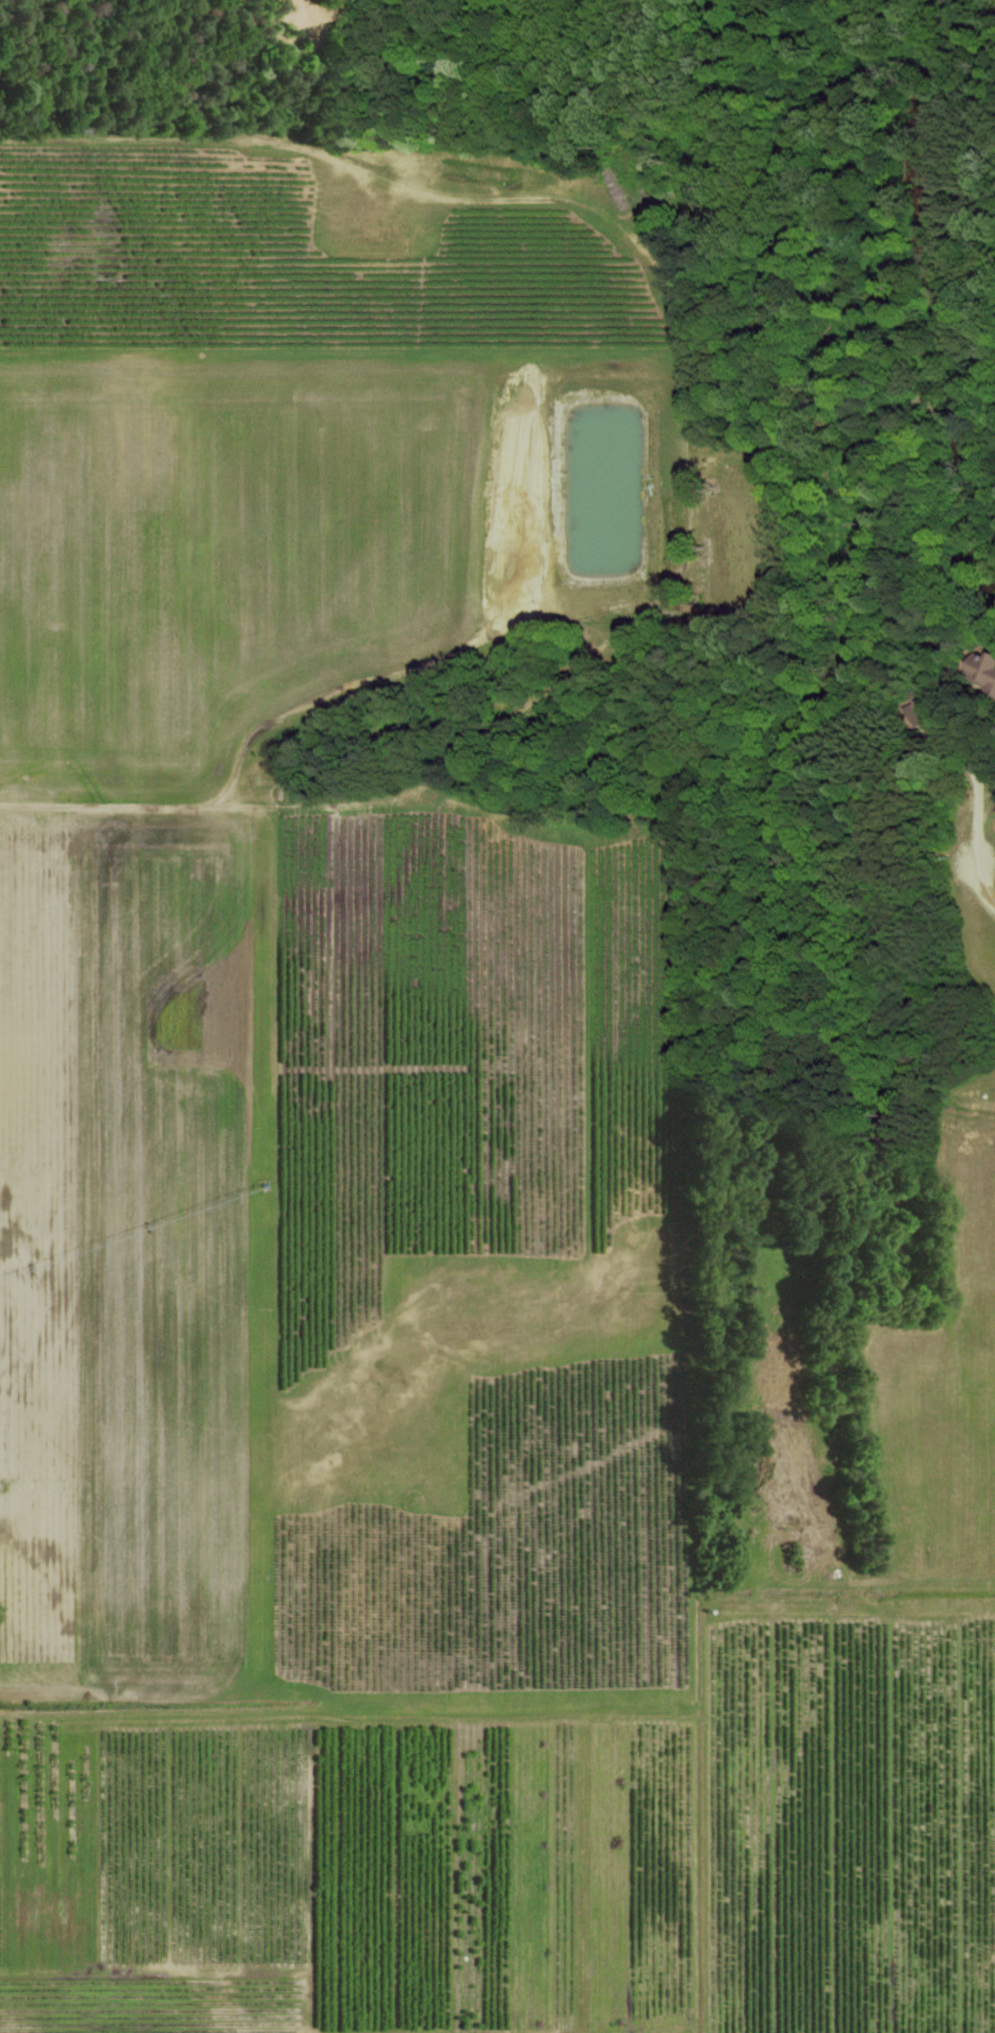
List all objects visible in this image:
river: (932, 289)
building: (984, 670)
building: (923, 712)
road: (974, 760)
road: (985, 807)
road: (975, 862)

